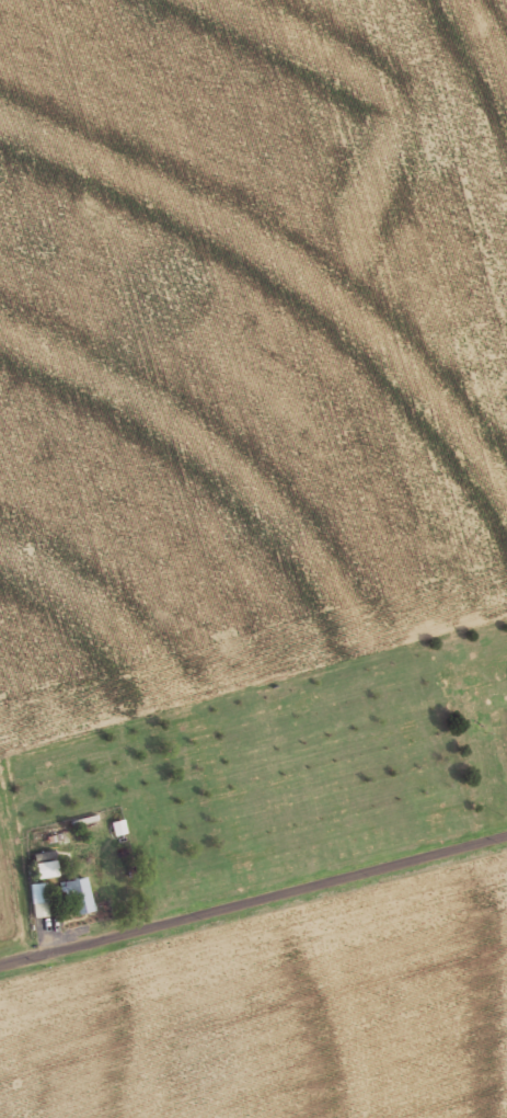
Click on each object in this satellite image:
building: (118, 826)
building: (45, 869)
building: (76, 894)
road: (253, 898)
building: (39, 900)

